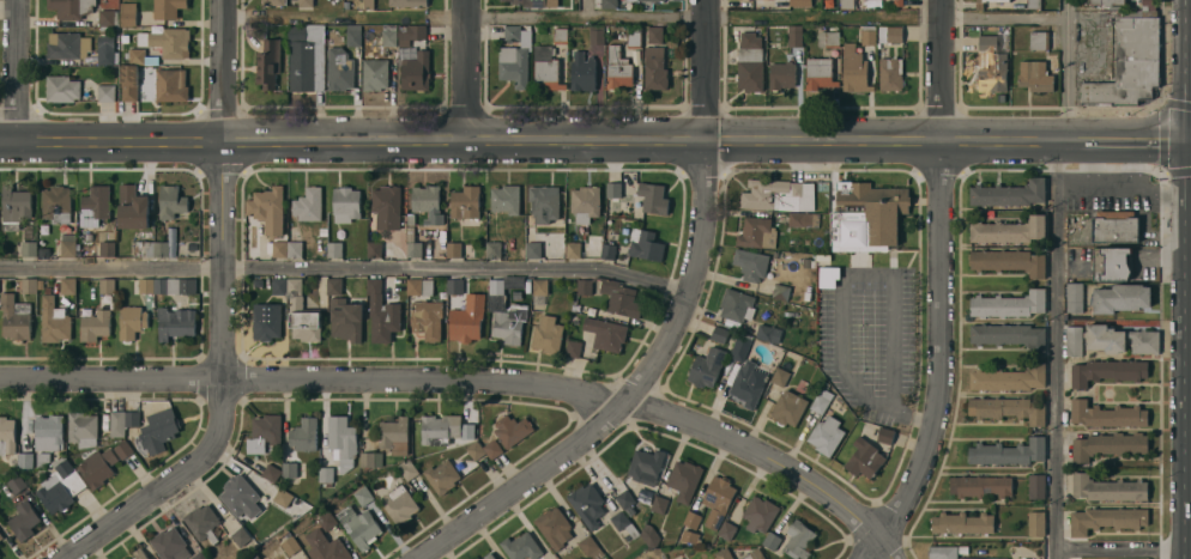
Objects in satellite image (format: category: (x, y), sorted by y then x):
building: (647, 0)
building: (272, 1)
building: (407, 2)
building: (533, 2)
building: (1107, 2)
building: (306, 4)
building: (368, 4)
building: (609, 4)
building: (800, 4)
building: (897, 4)
building: (1033, 4)
building: (345, 5)
building: (847, 5)
building: (1148, 5)
building: (980, 6)
building: (69, 7)
building: (167, 7)
road: (586, 7)
building: (127, 12)
building: (108, 16)
road: (646, 16)
building: (409, 32)
building: (513, 32)
building: (388, 34)
building: (597, 35)
building: (890, 35)
building: (353, 36)
building: (560, 36)
building: (654, 36)
building: (794, 36)
building: (869, 36)
building: (330, 37)
building: (634, 37)
building: (165, 40)
building: (828, 40)
building: (1039, 41)
building: (1002, 42)
building: (66, 43)
building: (104, 48)
building: (139, 55)
building: (304, 55)
building: (1127, 60)
building: (267, 61)
building: (513, 63)
building: (750, 63)
building: (992, 65)
building: (338, 67)
road: (465, 68)
road: (12, 69)
building: (546, 69)
building: (617, 69)
building: (654, 69)
road: (1071, 69)
building: (416, 71)
building: (582, 71)
building: (854, 71)
building: (374, 72)
building: (818, 74)
building: (891, 74)
building: (781, 75)
building: (1035, 77)
building: (128, 81)
building: (171, 84)
building: (145, 85)
building: (61, 86)
building: (105, 91)
road: (540, 139)
road: (1137, 140)
road: (220, 188)
building: (612, 192)
building: (1009, 194)
building: (779, 196)
building: (504, 198)
parking lot: (1117, 198)
building: (652, 199)
building: (170, 200)
building: (344, 201)
building: (425, 201)
building: (464, 201)
building: (55, 202)
building: (307, 202)
building: (93, 203)
building: (385, 205)
building: (545, 205)
building: (586, 205)
building: (13, 206)
building: (132, 206)
building: (266, 207)
road: (699, 213)
building: (867, 218)
building: (803, 220)
building: (1114, 227)
building: (324, 231)
building: (1010, 231)
building: (757, 233)
building: (411, 242)
building: (66, 243)
building: (645, 245)
building: (28, 247)
building: (105, 247)
building: (144, 247)
building: (159, 247)
building: (279, 247)
building: (294, 247)
building: (332, 247)
building: (380, 248)
building: (453, 248)
building: (492, 248)
building: (533, 250)
building: (573, 250)
building: (607, 251)
building: (1008, 259)
building: (750, 262)
building: (1111, 265)
road: (344, 266)
building: (827, 274)
building: (28, 284)
building: (67, 284)
building: (105, 284)
building: (144, 284)
building: (279, 284)
building: (294, 284)
building: (418, 284)
building: (538, 284)
building: (173, 285)
building: (333, 285)
building: (454, 285)
road: (938, 285)
building: (779, 290)
road: (841, 292)
building: (612, 293)
building: (1074, 294)
building: (1120, 299)
building: (303, 300)
building: (1008, 302)
building: (506, 306)
building: (734, 306)
building: (381, 311)
building: (14, 316)
building: (53, 317)
building: (345, 317)
building: (425, 317)
building: (129, 321)
building: (174, 321)
building: (265, 322)
building: (93, 323)
building: (304, 323)
building: (465, 324)
building: (767, 330)
building: (604, 332)
building: (718, 332)
building: (545, 333)
building: (1008, 333)
building: (1119, 338)
building: (1072, 339)
parking lot: (872, 340)
building: (739, 345)
building: (572, 346)
road: (1056, 350)
building: (706, 365)
building: (1106, 369)
building: (779, 375)
building: (1008, 376)
road: (461, 377)
building: (748, 381)
building: (821, 397)
building: (787, 407)
building: (1006, 407)
building: (1105, 413)
building: (131, 417)
building: (116, 421)
building: (81, 427)
building: (443, 427)
building: (510, 427)
building: (158, 429)
building: (48, 430)
building: (262, 431)
building: (6, 433)
building: (302, 433)
building: (826, 433)
building: (884, 433)
building: (393, 435)
building: (341, 439)
building: (1108, 443)
building: (122, 448)
building: (483, 448)
building: (1006, 450)
building: (863, 456)
building: (369, 457)
building: (24, 458)
building: (645, 464)
building: (97, 466)
building: (292, 468)
building: (406, 468)
building: (270, 470)
building: (325, 473)
building: (440, 474)
building: (683, 478)
building: (16, 481)
road: (164, 482)
road: (513, 482)
building: (60, 485)
building: (979, 485)
building: (1035, 485)
building: (1107, 486)
building: (237, 494)
building: (362, 494)
building: (280, 496)
building: (623, 497)
building: (715, 498)
building: (658, 502)
building: (398, 503)
building: (586, 503)
building: (758, 512)
building: (1106, 517)
building: (23, 518)
building: (619, 518)
building: (691, 518)
building: (325, 519)
building: (201, 521)
building: (961, 521)
building: (1034, 521)
building: (358, 524)
building: (554, 525)
building: (726, 528)
building: (240, 534)
building: (648, 534)
building: (0, 535)
building: (689, 536)
building: (0, 539)
building: (770, 539)
building: (798, 539)
building: (169, 543)
building: (289, 543)
building: (325, 546)
building: (520, 546)
building: (590, 546)
road: (1123, 548)
road: (871, 549)
building: (942, 551)
building: (139, 553)
building: (723, 553)
building: (752, 554)
building: (0, 555)
building: (198, 555)
building: (250, 555)
building: (488, 555)
building: (977, 557)
building: (476, 558)

